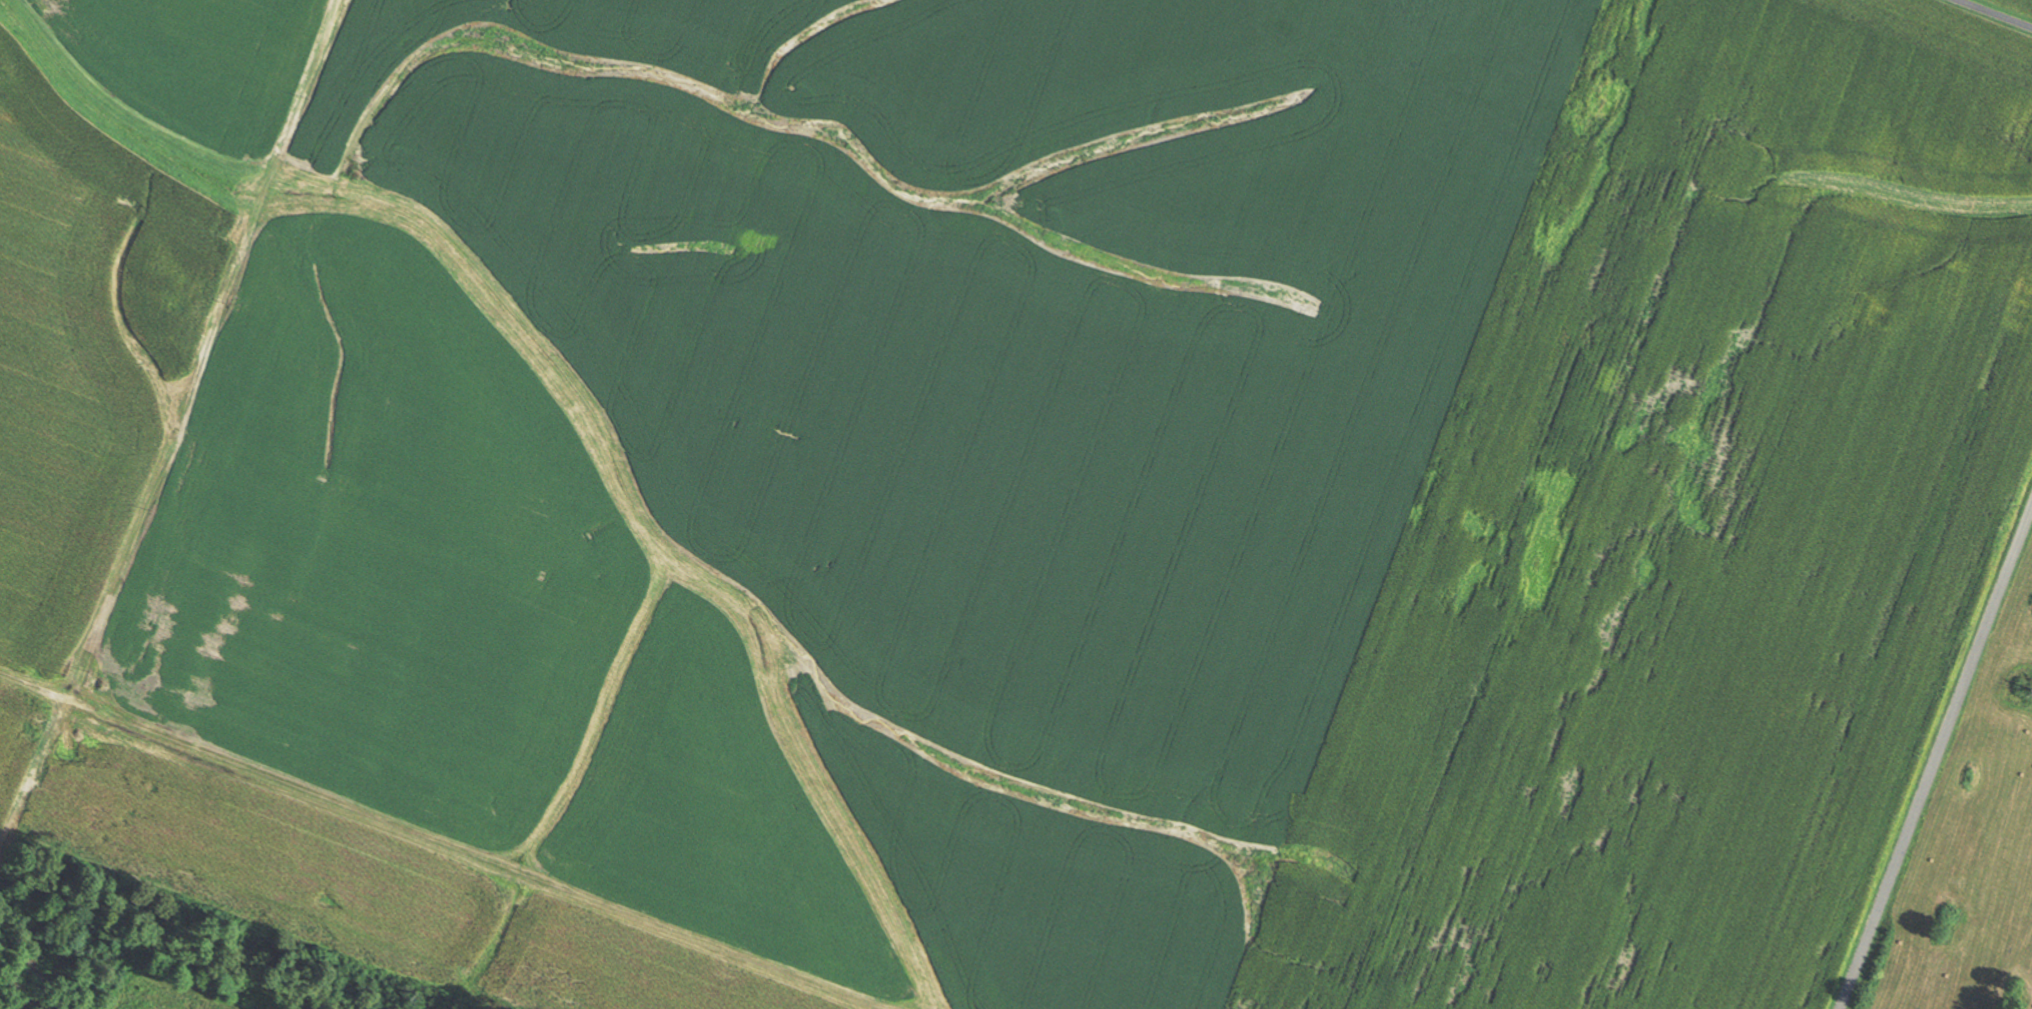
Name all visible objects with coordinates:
road: (1936, 759)

